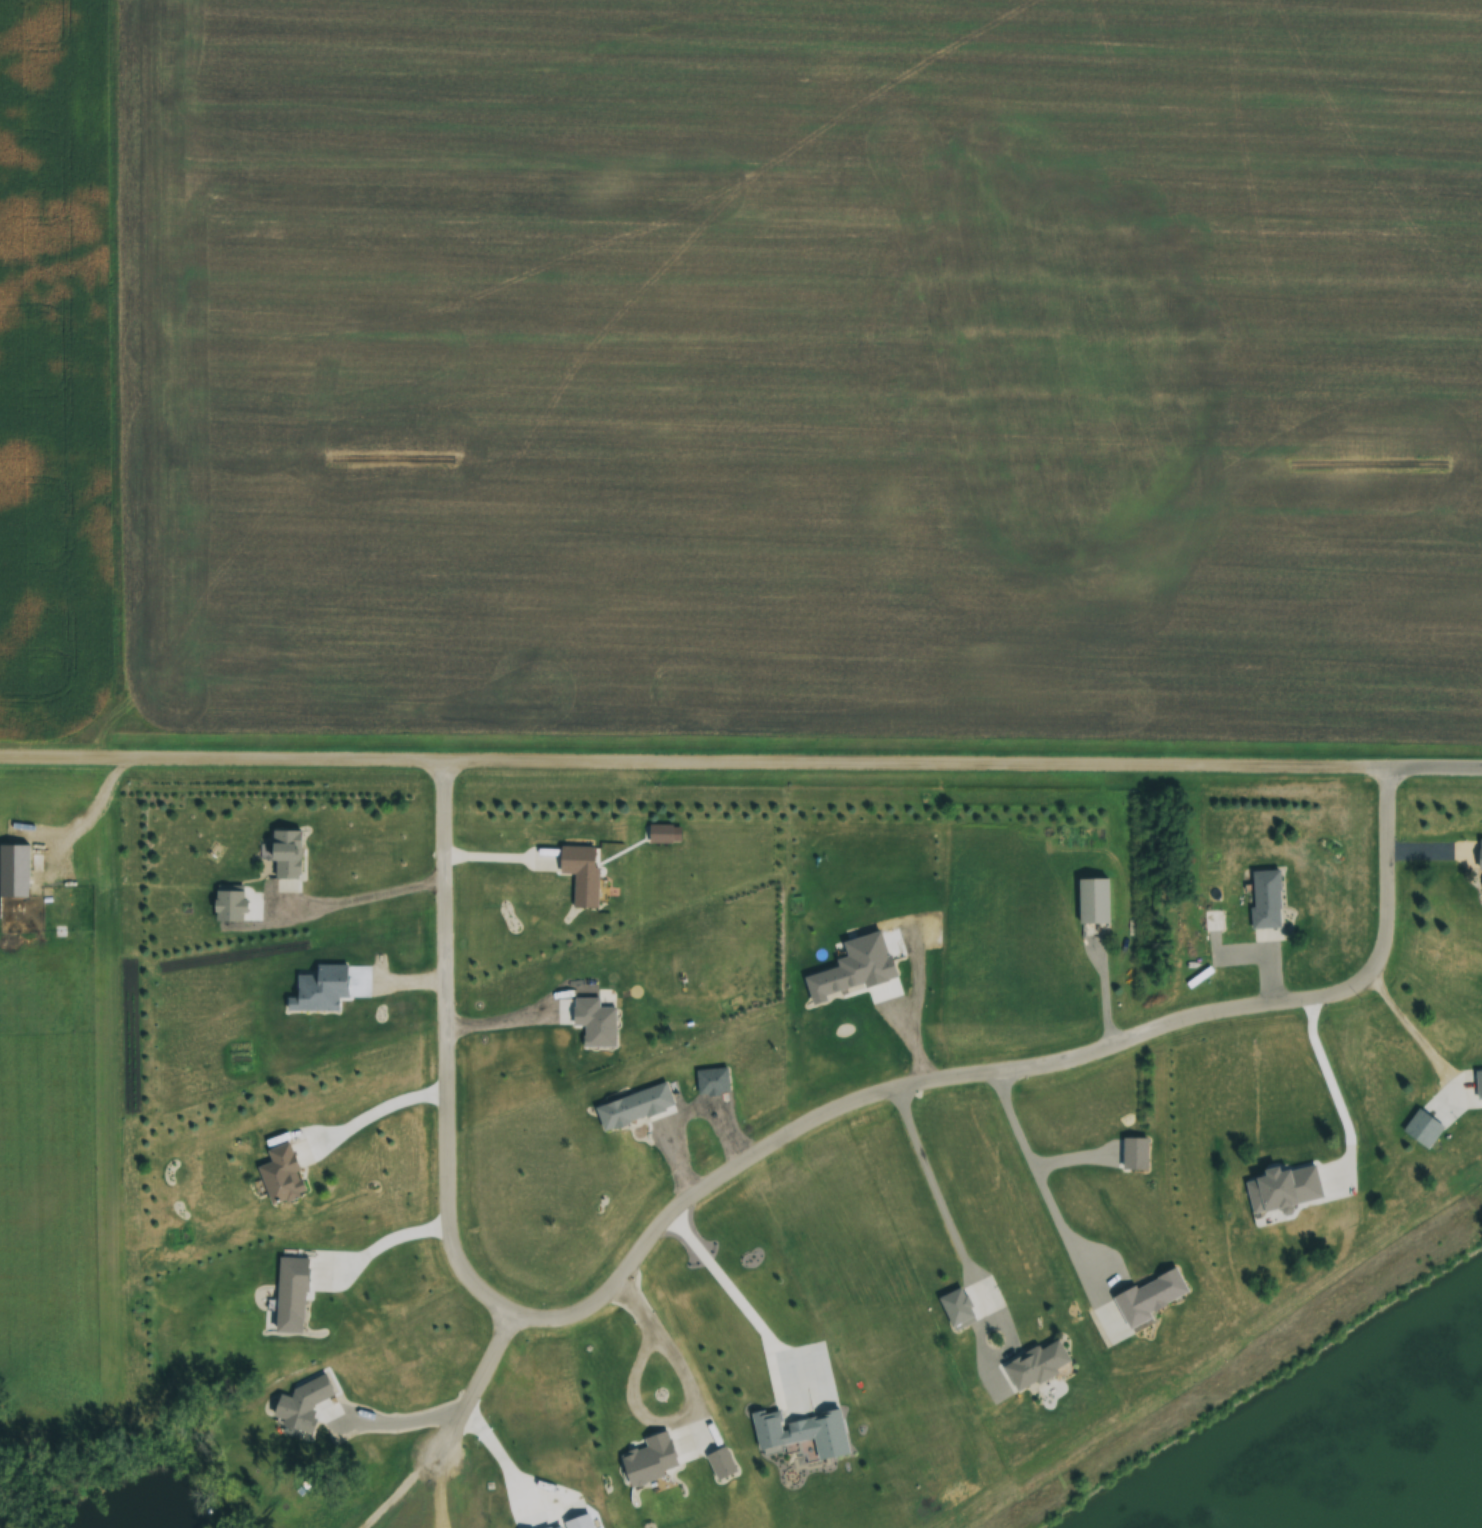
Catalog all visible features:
road: (693, 760)
road: (1434, 765)
road: (499, 852)
building: (1480, 854)
building: (1267, 900)
building: (1091, 902)
building: (1216, 921)
road: (506, 1016)
road: (1412, 1023)
road: (444, 1047)
road: (1012, 1066)
road: (1336, 1092)
building: (1438, 1092)
building: (280, 1175)
road: (1042, 1179)
building: (1300, 1217)
building: (1151, 1297)
road: (743, 1301)
building: (1036, 1365)
road: (471, 1385)
road: (687, 1400)
road: (403, 1416)
building: (783, 1428)
road: (504, 1458)
building: (647, 1461)

